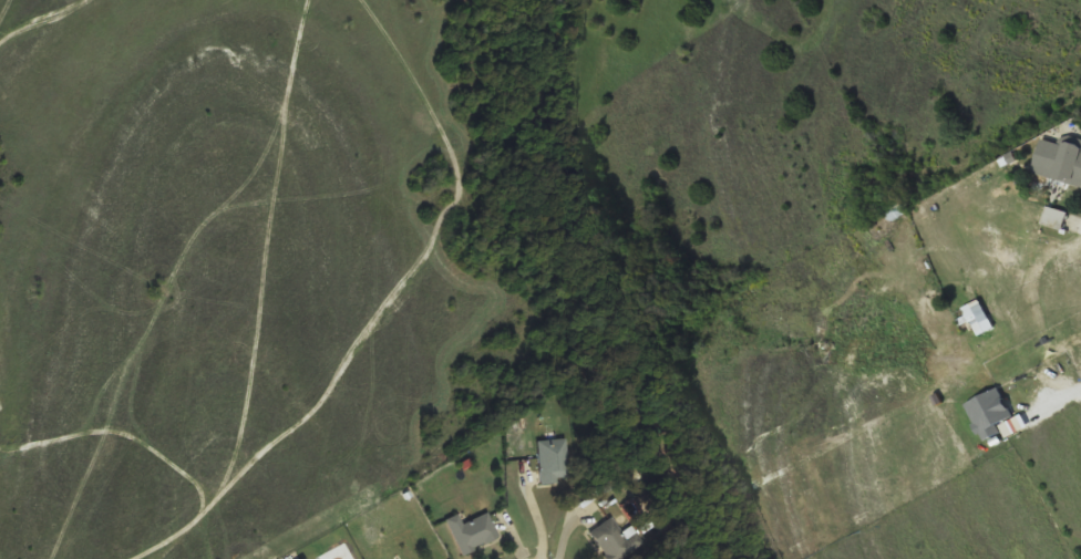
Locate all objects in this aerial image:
building: (1058, 161)
building: (1054, 216)
building: (978, 317)
building: (990, 412)
building: (553, 459)
road: (548, 518)
building: (473, 530)
building: (617, 539)

